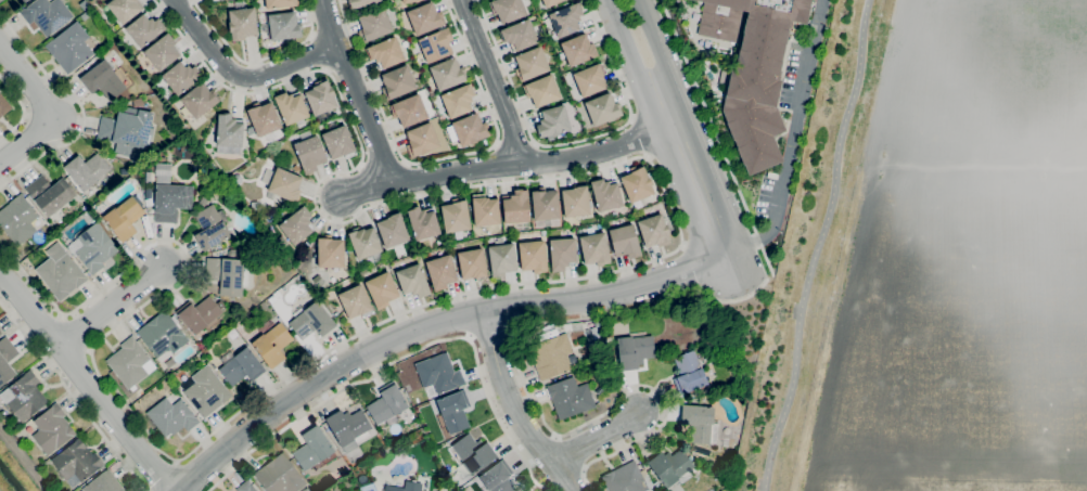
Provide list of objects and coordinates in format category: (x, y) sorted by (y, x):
building: (22, 0)
building: (24, 0)
building: (407, 1)
building: (361, 2)
building: (550, 2)
building: (279, 3)
building: (124, 9)
building: (508, 10)
building: (47, 15)
building: (85, 15)
building: (424, 17)
building: (565, 20)
building: (242, 23)
building: (374, 24)
building: (284, 25)
building: (144, 29)
building: (519, 35)
building: (436, 44)
building: (707, 46)
building: (69, 48)
building: (578, 49)
building: (162, 52)
building: (105, 53)
building: (385, 53)
road: (257, 61)
building: (530, 64)
building: (753, 70)
building: (447, 74)
building: (181, 76)
road: (243, 76)
building: (590, 79)
building: (103, 80)
building: (397, 81)
road: (495, 81)
building: (541, 90)
road: (353, 92)
building: (320, 96)
building: (199, 100)
building: (458, 101)
building: (137, 102)
building: (3, 106)
road: (79, 107)
building: (292, 108)
road: (22, 109)
building: (602, 109)
building: (409, 111)
road: (50, 113)
building: (263, 119)
building: (552, 121)
road: (676, 127)
building: (127, 129)
building: (470, 129)
building: (229, 131)
building: (421, 140)
road: (791, 140)
building: (338, 142)
road: (572, 142)
building: (309, 152)
building: (137, 155)
road: (440, 158)
road: (509, 165)
building: (208, 167)
building: (87, 170)
building: (236, 179)
building: (282, 183)
building: (637, 184)
building: (49, 194)
building: (605, 194)
building: (170, 199)
building: (203, 202)
building: (575, 202)
building: (545, 205)
building: (254, 206)
building: (515, 207)
building: (485, 210)
building: (455, 216)
building: (124, 217)
building: (17, 219)
building: (423, 223)
building: (297, 224)
building: (210, 227)
building: (392, 230)
building: (653, 231)
building: (542, 233)
building: (625, 242)
building: (365, 243)
road: (819, 245)
building: (93, 247)
building: (594, 249)
building: (330, 251)
building: (562, 254)
building: (533, 256)
building: (501, 258)
park: (932, 259)
building: (472, 264)
building: (60, 272)
building: (440, 272)
building: (228, 273)
building: (412, 281)
road: (548, 282)
building: (381, 289)
building: (355, 302)
road: (117, 310)
road: (606, 313)
building: (199, 314)
building: (310, 321)
road: (433, 324)
building: (0, 332)
building: (162, 334)
building: (272, 345)
building: (634, 350)
building: (597, 351)
road: (406, 354)
building: (551, 356)
building: (7, 360)
building: (130, 363)
building: (241, 367)
building: (438, 373)
building: (689, 373)
road: (87, 382)
building: (205, 391)
building: (24, 396)
road: (72, 396)
building: (570, 398)
building: (386, 403)
road: (523, 404)
building: (453, 411)
building: (2, 412)
building: (171, 417)
building: (700, 424)
building: (348, 428)
building: (52, 429)
road: (602, 440)
building: (314, 449)
building: (470, 456)
building: (77, 462)
building: (42, 466)
building: (670, 467)
building: (279, 475)
road: (161, 476)
road: (186, 476)
building: (497, 477)
building: (625, 478)
building: (104, 482)
building: (656, 484)
building: (245, 487)
building: (405, 487)
building: (306, 489)

